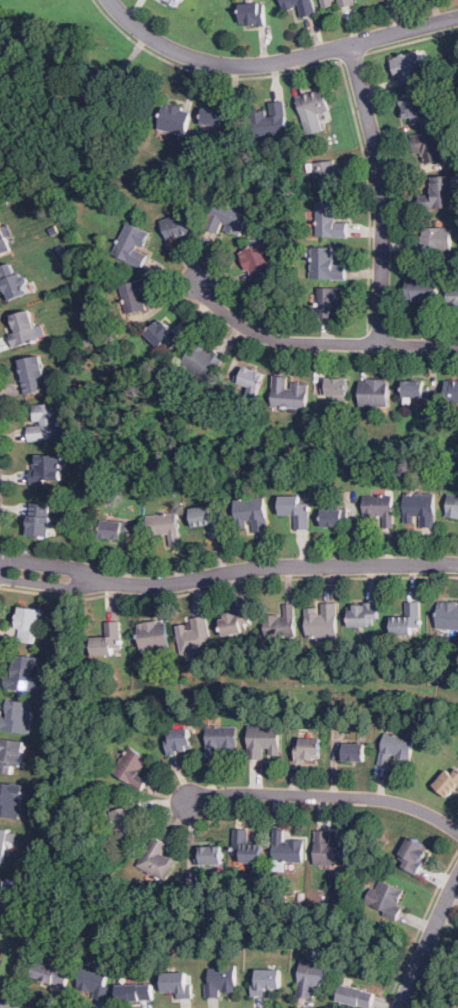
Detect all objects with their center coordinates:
building: (175, 2)
building: (337, 3)
building: (301, 6)
building: (254, 13)
road: (412, 40)
road: (351, 57)
road: (277, 61)
building: (408, 68)
road: (341, 70)
building: (314, 103)
building: (413, 108)
building: (215, 117)
building: (176, 119)
building: (271, 120)
building: (427, 146)
building: (326, 175)
road: (383, 192)
building: (440, 193)
building: (0, 202)
building: (227, 218)
building: (331, 220)
building: (178, 225)
building: (437, 239)
building: (3, 240)
building: (133, 244)
building: (258, 260)
building: (327, 264)
building: (13, 281)
building: (424, 292)
building: (135, 296)
building: (453, 298)
building: (330, 301)
building: (24, 328)
building: (164, 336)
road: (318, 343)
building: (203, 360)
building: (33, 374)
building: (250, 380)
building: (336, 387)
building: (415, 388)
building: (453, 391)
building: (290, 393)
building: (374, 393)
building: (46, 422)
building: (47, 469)
building: (452, 505)
building: (381, 506)
building: (421, 509)
building: (296, 510)
building: (252, 513)
building: (335, 518)
building: (40, 520)
building: (209, 520)
building: (165, 527)
building: (115, 530)
road: (228, 573)
building: (365, 615)
building: (448, 615)
building: (322, 620)
building: (408, 620)
building: (282, 622)
building: (236, 623)
building: (29, 625)
building: (154, 635)
building: (195, 635)
building: (109, 641)
building: (26, 673)
building: (18, 716)
building: (221, 739)
building: (179, 741)
building: (264, 741)
building: (396, 748)
building: (309, 749)
building: (353, 752)
building: (11, 754)
building: (136, 768)
building: (449, 784)
road: (327, 796)
building: (12, 799)
building: (127, 820)
building: (5, 842)
building: (247, 847)
building: (288, 847)
building: (330, 848)
building: (211, 855)
building: (414, 855)
building: (160, 859)
building: (2, 890)
building: (387, 896)
road: (428, 943)
building: (51, 974)
building: (312, 977)
building: (96, 981)
building: (223, 981)
building: (266, 981)
building: (178, 983)
building: (136, 992)
building: (356, 997)

